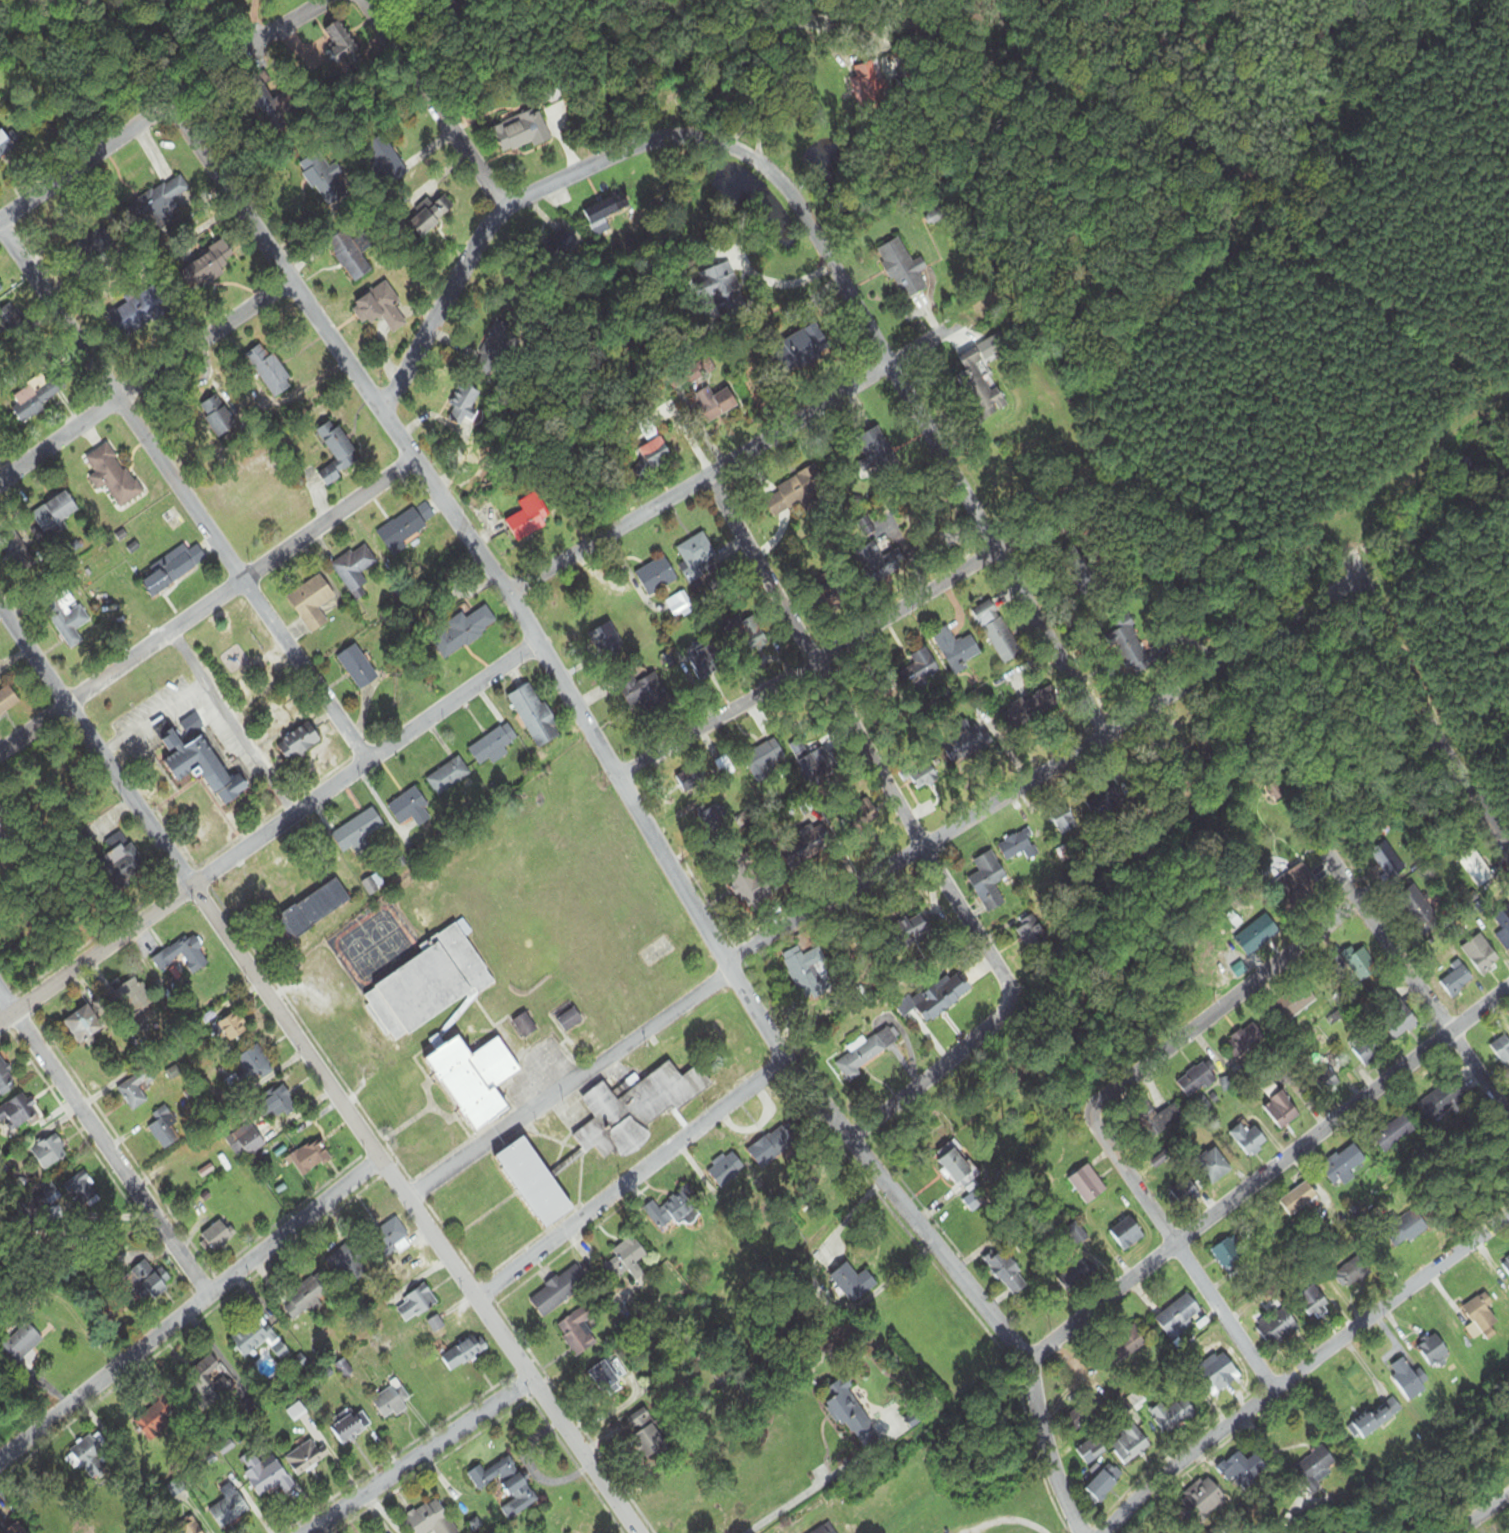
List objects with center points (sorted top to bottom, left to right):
building: (250, 0)
road: (299, 17)
road: (778, 37)
building: (342, 46)
building: (868, 89)
building: (686, 98)
building: (269, 111)
road: (751, 118)
building: (521, 134)
building: (6, 145)
building: (386, 161)
road: (82, 170)
building: (320, 178)
building: (158, 205)
road: (803, 211)
building: (606, 213)
building: (431, 216)
building: (561, 247)
building: (350, 257)
building: (208, 267)
building: (903, 271)
road: (773, 283)
building: (0, 288)
building: (719, 289)
building: (380, 309)
road: (452, 311)
building: (131, 314)
building: (9, 321)
building: (801, 350)
building: (269, 371)
road: (149, 387)
building: (980, 388)
building: (33, 400)
building: (716, 403)
building: (466, 407)
building: (218, 417)
building: (337, 453)
building: (879, 453)
building: (651, 458)
building: (111, 477)
road: (706, 484)
building: (794, 493)
road: (182, 497)
building: (53, 513)
building: (528, 522)
building: (405, 527)
building: (14, 545)
building: (875, 551)
building: (696, 556)
building: (172, 569)
building: (355, 569)
building: (1352, 573)
building: (657, 576)
road: (245, 579)
building: (311, 603)
building: (60, 615)
building: (996, 633)
building: (747, 634)
building: (605, 643)
building: (1127, 644)
building: (956, 649)
building: (703, 661)
building: (357, 668)
building: (920, 668)
road: (817, 671)
building: (635, 688)
building: (885, 695)
building: (7, 700)
building: (1024, 712)
road: (1426, 714)
road: (152, 716)
building: (534, 716)
road: (231, 722)
road: (34, 725)
road: (864, 729)
building: (299, 742)
building: (493, 745)
building: (967, 745)
building: (814, 758)
building: (763, 759)
road: (365, 764)
building: (203, 767)
building: (922, 775)
building: (448, 777)
building: (407, 807)
road: (642, 813)
road: (1267, 814)
building: (864, 816)
building: (713, 819)
building: (1068, 822)
building: (360, 828)
building: (82, 839)
building: (814, 842)
building: (1020, 847)
building: (1387, 861)
building: (118, 863)
building: (1475, 868)
building: (987, 874)
road: (874, 876)
building: (750, 890)
building: (1292, 892)
building: (315, 909)
building: (1416, 909)
building: (913, 929)
building: (1504, 938)
road: (95, 952)
building: (1481, 955)
building: (182, 957)
building: (1359, 964)
building: (805, 968)
building: (1456, 980)
building: (428, 985)
road: (1416, 986)
building: (942, 997)
building: (128, 999)
building: (1294, 1002)
road: (1220, 1007)
building: (1398, 1020)
building: (569, 1021)
building: (84, 1025)
building: (524, 1027)
building: (232, 1028)
building: (1244, 1042)
building: (590, 1047)
building: (1367, 1049)
building: (1502, 1049)
building: (859, 1058)
building: (251, 1066)
road: (939, 1068)
road: (315, 1070)
building: (5, 1079)
building: (476, 1080)
building: (1196, 1081)
building: (1325, 1082)
building: (136, 1090)
building: (1443, 1100)
building: (635, 1111)
building: (1281, 1111)
building: (18, 1114)
building: (1155, 1119)
building: (165, 1129)
building: (1394, 1134)
building: (1248, 1140)
road: (105, 1142)
building: (244, 1142)
building: (769, 1149)
building: (49, 1153)
building: (307, 1159)
building: (1343, 1164)
building: (1212, 1166)
building: (957, 1169)
building: (726, 1170)
road: (1268, 1176)
road: (634, 1179)
building: (535, 1184)
building: (1086, 1185)
building: (81, 1190)
building: (50, 1194)
building: (1185, 1194)
building: (1299, 1199)
building: (683, 1205)
building: (1408, 1226)
building: (1076, 1235)
building: (1126, 1235)
building: (217, 1236)
building: (387, 1239)
building: (1226, 1254)
road: (1180, 1255)
building: (627, 1263)
building: (1506, 1265)
building: (1007, 1275)
building: (1348, 1275)
building: (1074, 1276)
building: (148, 1282)
building: (852, 1284)
building: (559, 1291)
building: (304, 1301)
building: (1314, 1303)
building: (415, 1305)
road: (188, 1313)
building: (1179, 1317)
building: (1481, 1318)
building: (435, 1325)
building: (1277, 1327)
building: (578, 1332)
building: (258, 1340)
building: (19, 1345)
building: (1122, 1345)
building: (1434, 1351)
building: (464, 1353)
road: (1303, 1371)
building: (1220, 1373)
building: (605, 1378)
building: (1408, 1379)
building: (208, 1382)
building: (391, 1402)
building: (1172, 1414)
building: (850, 1416)
building: (1378, 1418)
building: (158, 1419)
building: (351, 1428)
building: (647, 1434)
building: (1129, 1443)
building: (1091, 1451)
road: (424, 1456)
building: (93, 1457)
building: (306, 1458)
building: (1315, 1466)
building: (1243, 1471)
building: (265, 1475)
building: (1105, 1483)
road: (811, 1488)
building: (1203, 1500)
building: (228, 1508)
road: (1478, 1514)
building: (426, 1518)
building: (188, 1528)
building: (15, 1529)
building: (826, 1529)
building: (1, 1531)

